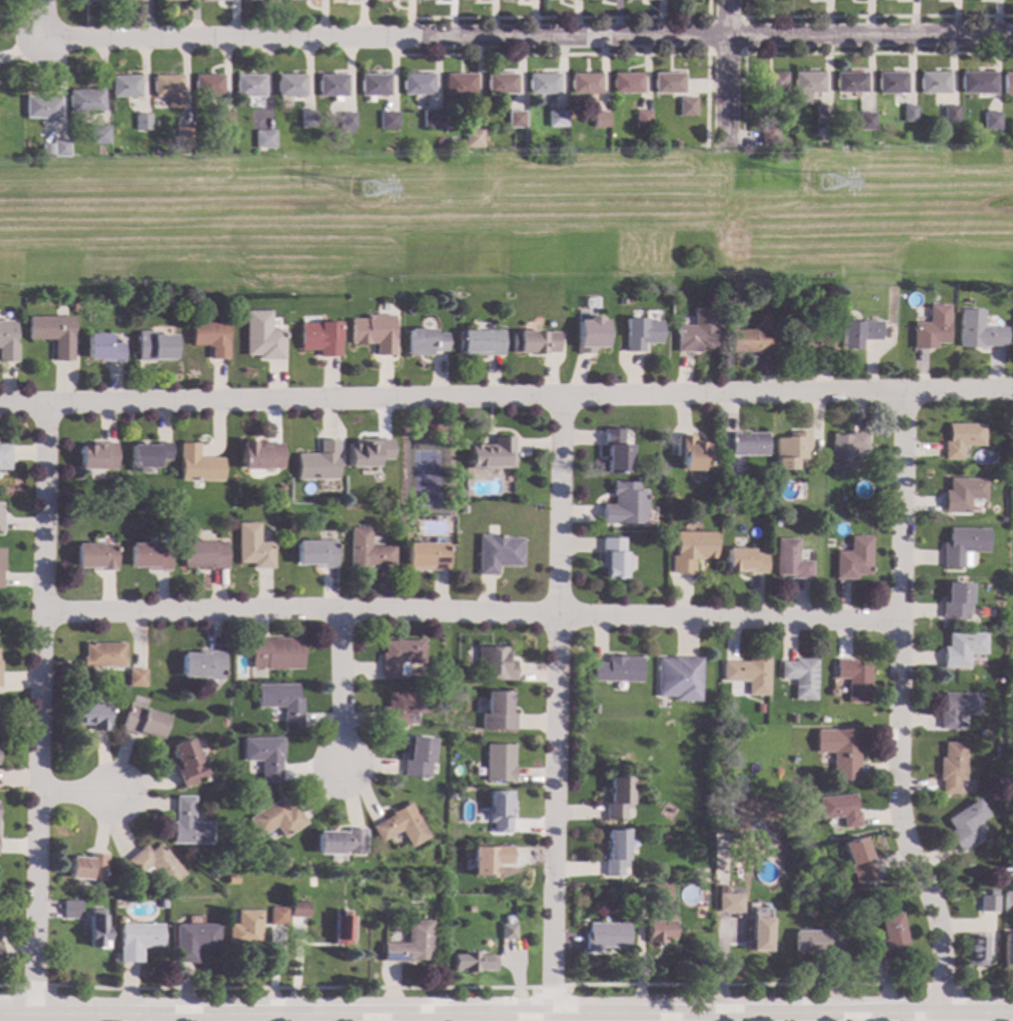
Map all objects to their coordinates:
building: (87, 0)
building: (128, 0)
building: (168, 0)
building: (210, 0)
building: (261, 0)
building: (313, 0)
building: (343, 0)
building: (400, 0)
road: (869, 16)
road: (567, 17)
road: (743, 17)
road: (43, 19)
road: (528, 37)
road: (832, 53)
road: (596, 54)
road: (724, 72)
building: (849, 81)
building: (541, 82)
building: (625, 82)
building: (667, 82)
building: (769, 82)
building: (890, 82)
building: (975, 82)
building: (458, 83)
building: (500, 83)
building: (584, 83)
building: (932, 83)
building: (1007, 83)
building: (290, 84)
building: (374, 84)
building: (417, 84)
building: (806, 84)
building: (123, 85)
building: (206, 85)
building: (248, 85)
building: (332, 85)
building: (166, 88)
building: (83, 100)
building: (39, 106)
building: (685, 106)
building: (907, 113)
building: (948, 113)
building: (822, 114)
building: (306, 118)
building: (430, 118)
building: (554, 118)
building: (640, 118)
building: (221, 119)
building: (387, 119)
building: (514, 119)
building: (598, 119)
building: (989, 120)
building: (139, 121)
building: (347, 121)
building: (864, 121)
building: (818, 129)
building: (96, 135)
building: (767, 135)
building: (180, 137)
building: (262, 138)
building: (471, 138)
building: (674, 144)
building: (56, 147)
building: (637, 148)
building: (43, 150)
power tower: (824, 186)
power tower: (364, 193)
road: (506, 215)
building: (750, 292)
building: (622, 299)
building: (71, 307)
building: (409, 310)
building: (930, 328)
building: (696, 330)
building: (977, 331)
building: (372, 332)
building: (857, 332)
building: (51, 333)
building: (588, 333)
building: (640, 333)
building: (804, 334)
building: (261, 336)
building: (209, 337)
building: (319, 337)
building: (749, 340)
building: (533, 341)
building: (6, 342)
building: (424, 342)
building: (479, 342)
building: (154, 345)
building: (102, 348)
road: (506, 396)
building: (962, 437)
building: (748, 444)
building: (615, 450)
building: (791, 450)
building: (846, 450)
building: (690, 452)
building: (366, 453)
building: (491, 453)
building: (96, 455)
building: (148, 455)
building: (260, 455)
building: (3, 456)
building: (318, 461)
building: (197, 464)
building: (391, 472)
building: (728, 474)
building: (661, 483)
building: (279, 488)
building: (463, 493)
building: (963, 493)
building: (744, 498)
building: (624, 503)
building: (0, 517)
building: (775, 523)
building: (963, 543)
building: (253, 546)
building: (689, 549)
building: (367, 550)
building: (497, 552)
building: (316, 553)
building: (203, 554)
building: (149, 555)
building: (427, 555)
building: (611, 555)
building: (94, 556)
building: (853, 558)
building: (742, 559)
building: (790, 560)
building: (0, 561)
building: (956, 600)
road: (472, 611)
building: (962, 647)
building: (275, 653)
building: (102, 654)
building: (399, 657)
building: (493, 662)
building: (202, 664)
building: (616, 669)
building: (748, 674)
building: (135, 677)
building: (678, 677)
building: (800, 677)
building: (854, 680)
road: (343, 689)
building: (832, 691)
building: (281, 702)
road: (556, 705)
road: (898, 705)
building: (958, 706)
building: (593, 707)
building: (403, 708)
building: (759, 708)
road: (41, 710)
building: (496, 710)
building: (91, 715)
building: (791, 718)
building: (142, 721)
building: (840, 751)
building: (264, 755)
building: (418, 756)
building: (499, 761)
building: (186, 763)
building: (951, 766)
road: (76, 792)
building: (618, 797)
building: (840, 808)
building: (499, 809)
building: (277, 818)
building: (189, 824)
building: (963, 824)
building: (402, 825)
building: (341, 841)
building: (615, 850)
building: (488, 858)
building: (858, 859)
building: (286, 861)
building: (1010, 861)
building: (155, 864)
building: (88, 867)
building: (307, 870)
building: (214, 872)
building: (232, 879)
building: (318, 881)
building: (660, 892)
building: (1007, 900)
building: (119, 902)
building: (727, 902)
building: (987, 902)
building: (161, 903)
building: (71, 909)
building: (298, 909)
building: (277, 915)
building: (341, 927)
building: (507, 927)
building: (244, 928)
building: (96, 929)
building: (759, 930)
building: (660, 931)
building: (606, 935)
building: (889, 937)
building: (136, 940)
building: (192, 940)
building: (818, 941)
building: (409, 944)
building: (0, 949)
building: (976, 950)
building: (1007, 950)
building: (863, 957)
building: (472, 962)
road: (746, 984)
road: (6, 985)
road: (33, 985)
road: (551, 986)
road: (941, 986)
road: (986, 986)
road: (292, 988)
road: (506, 1014)
road: (132, 1017)

